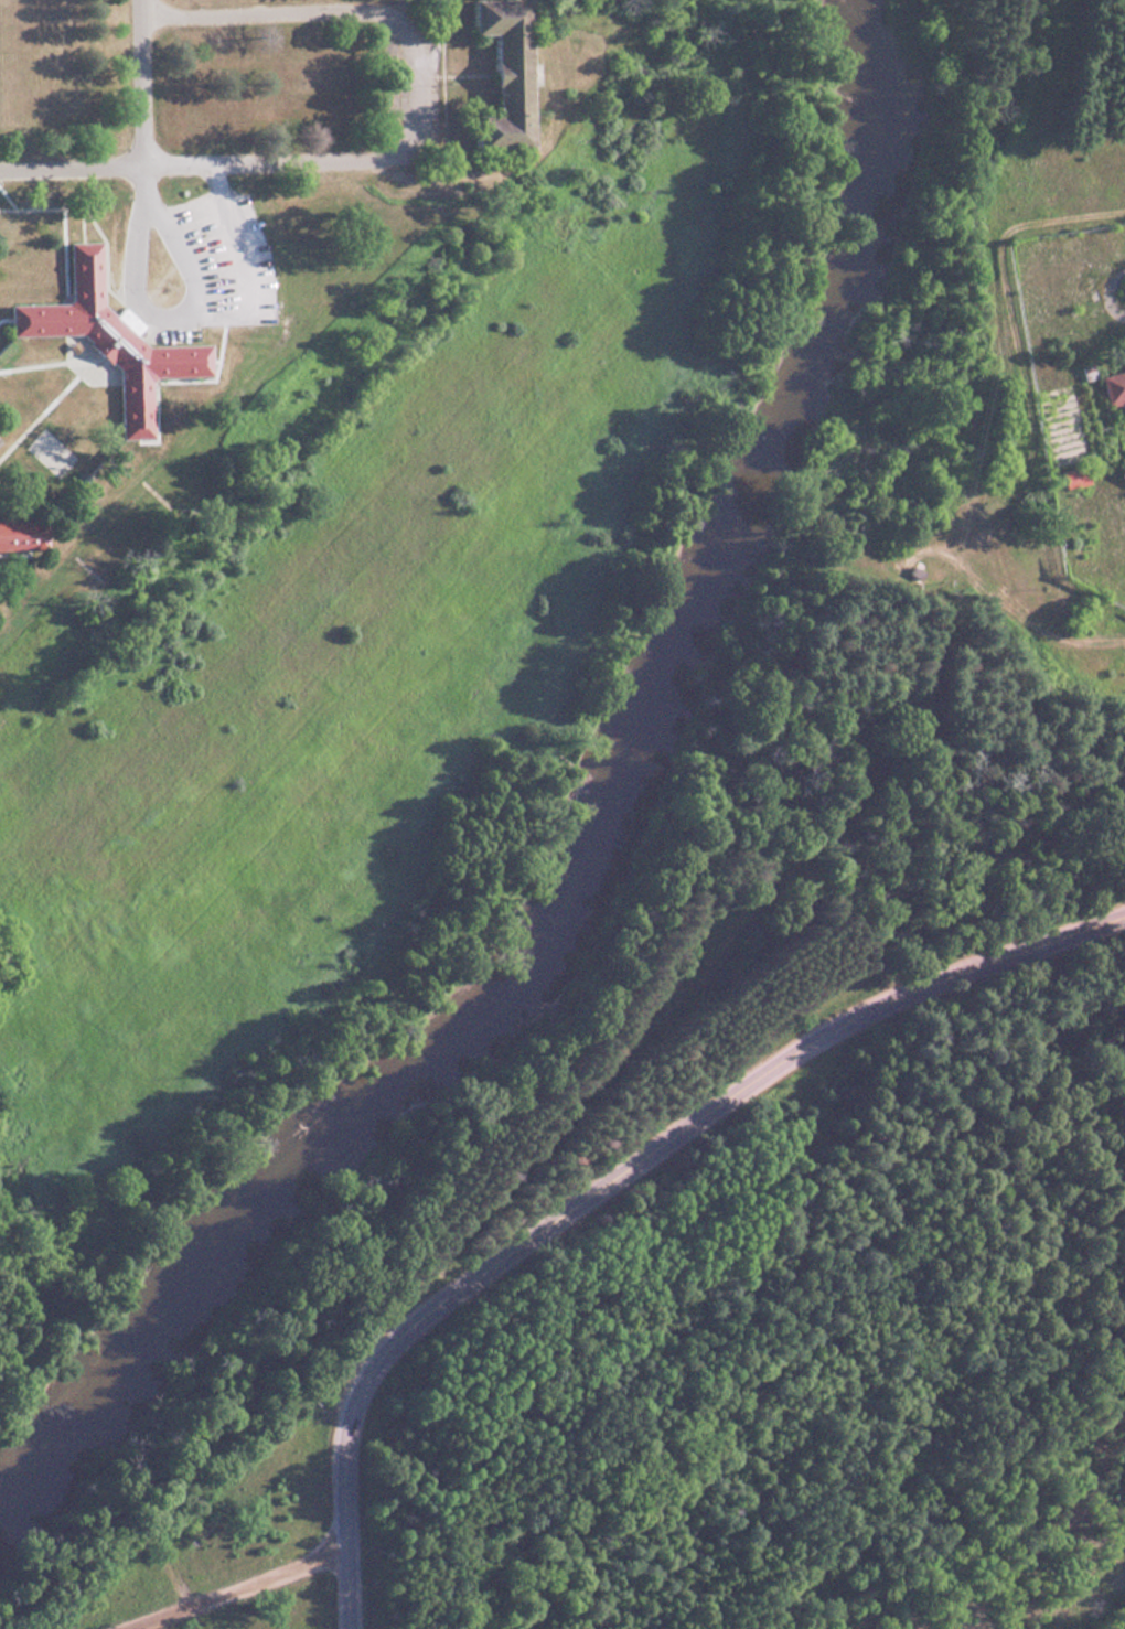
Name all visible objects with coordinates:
road: (363, 8)
building: (496, 75)
road: (139, 81)
road: (182, 162)
road: (138, 229)
road: (189, 276)
building: (106, 337)
building: (1112, 388)
building: (1121, 471)
building: (1070, 476)
building: (18, 535)
river: (606, 843)
road: (617, 1185)
park: (795, 1350)
road: (243, 1587)

